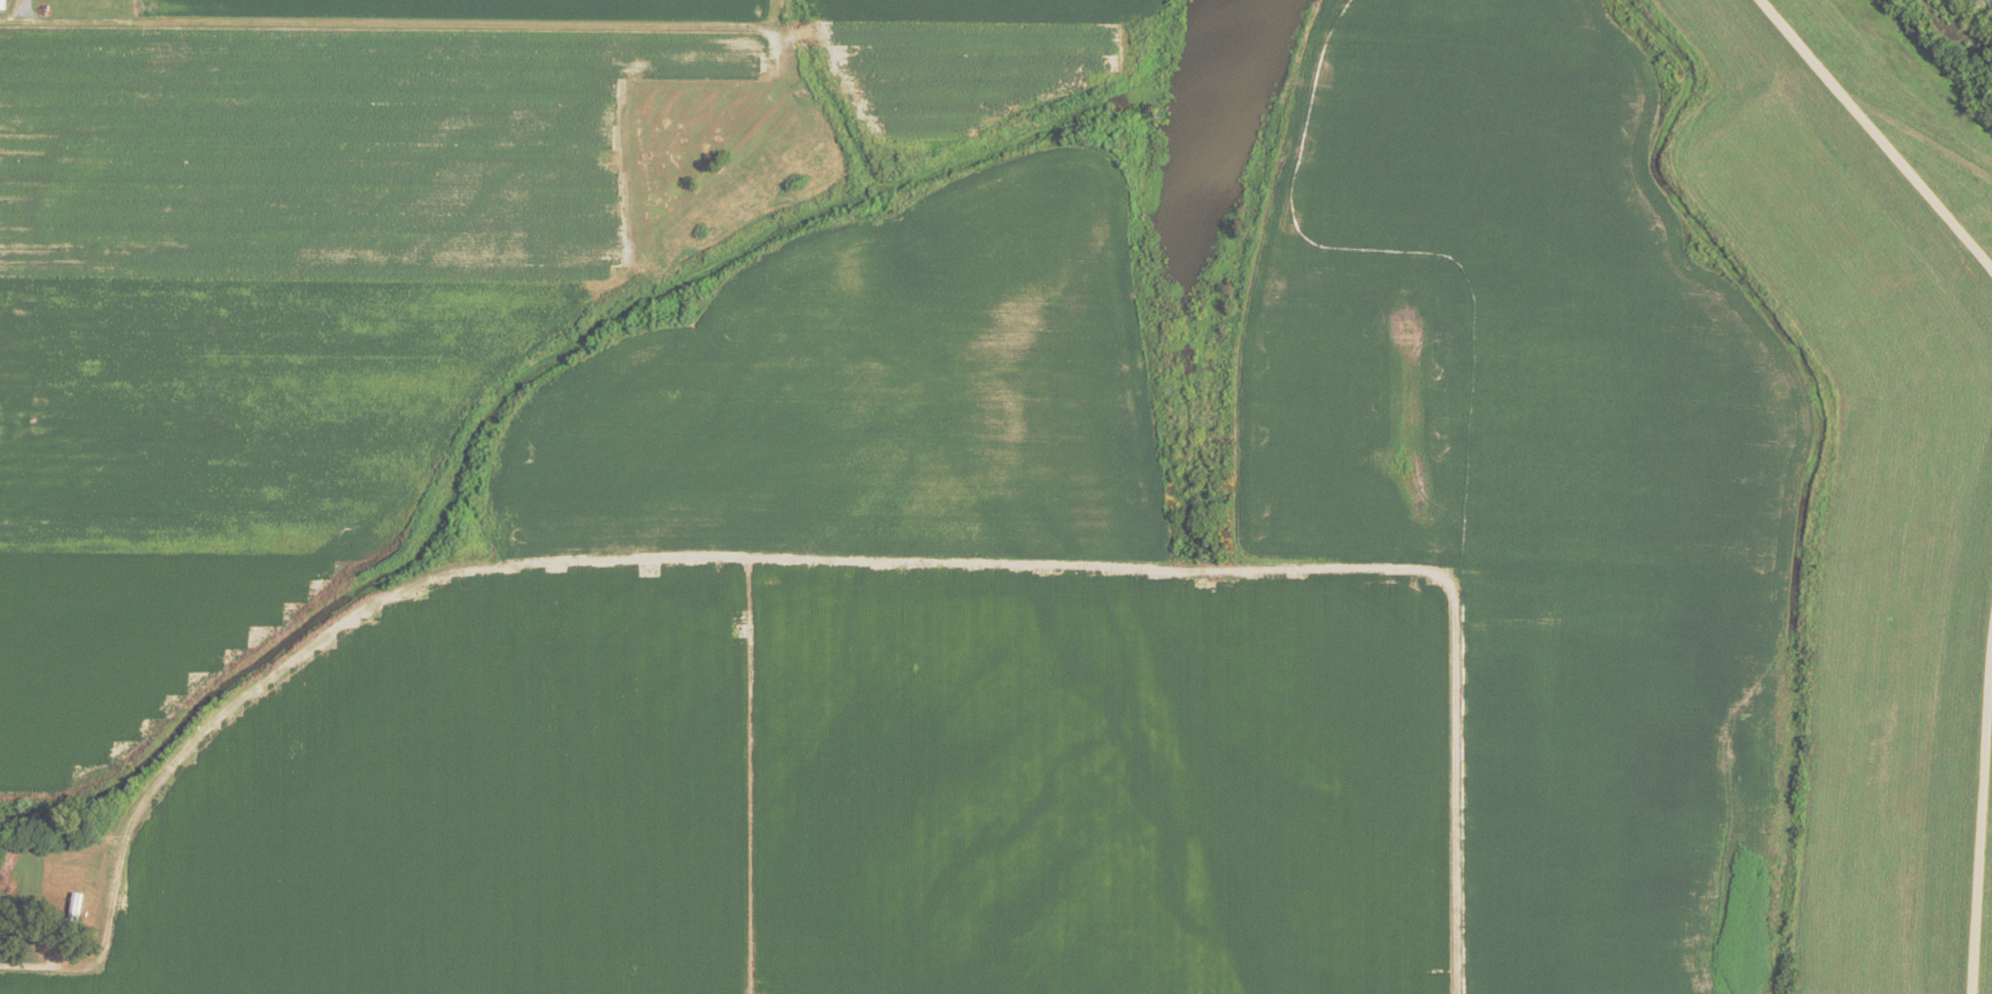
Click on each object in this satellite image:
road: (265, 16)
road: (1875, 136)
road: (1980, 823)
building: (72, 918)

